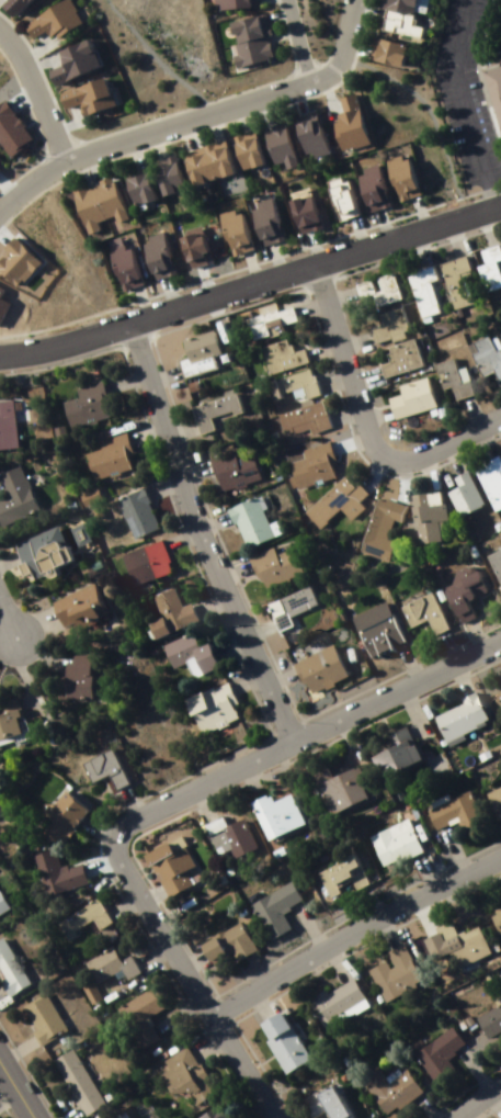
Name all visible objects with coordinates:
building: (23, 0)
building: (210, 0)
building: (232, 3)
building: (8, 4)
building: (48, 18)
building: (400, 19)
building: (248, 36)
road: (296, 39)
building: (388, 54)
road: (158, 57)
building: (70, 60)
road: (324, 88)
building: (492, 88)
road: (35, 92)
parking lot: (463, 92)
building: (84, 93)
road: (295, 98)
road: (462, 101)
road: (235, 103)
road: (264, 105)
road: (235, 116)
building: (346, 122)
road: (207, 124)
road: (182, 131)
building: (307, 135)
road: (157, 138)
building: (276, 143)
road: (132, 147)
building: (244, 151)
road: (88, 162)
building: (205, 165)
road: (76, 166)
building: (398, 174)
building: (167, 177)
road: (32, 178)
building: (368, 184)
building: (137, 188)
building: (338, 197)
building: (94, 204)
building: (300, 211)
road: (417, 214)
building: (264, 217)
road: (483, 221)
road: (382, 224)
building: (232, 227)
road: (453, 230)
road: (356, 233)
road: (417, 241)
road: (311, 247)
building: (155, 250)
road: (274, 260)
building: (121, 263)
road: (250, 267)
building: (486, 267)
building: (452, 279)
road: (251, 280)
building: (375, 286)
building: (420, 287)
road: (167, 292)
road: (335, 292)
road: (140, 302)
road: (307, 304)
building: (261, 321)
building: (385, 324)
building: (499, 336)
road: (349, 339)
road: (320, 348)
building: (196, 350)
building: (277, 353)
building: (396, 357)
building: (485, 357)
road: (161, 368)
road: (122, 376)
road: (330, 376)
road: (357, 377)
building: (447, 379)
building: (295, 381)
building: (407, 397)
building: (84, 400)
building: (208, 409)
road: (341, 410)
building: (300, 414)
road: (369, 414)
road: (467, 415)
road: (362, 420)
building: (5, 424)
road: (178, 427)
road: (497, 427)
road: (141, 428)
road: (346, 440)
road: (478, 443)
building: (500, 454)
building: (106, 456)
road: (451, 458)
road: (191, 463)
building: (309, 463)
building: (230, 467)
road: (368, 470)
road: (426, 472)
building: (486, 479)
road: (397, 481)
road: (160, 483)
building: (13, 493)
building: (457, 493)
building: (333, 499)
building: (134, 510)
building: (423, 513)
road: (209, 518)
building: (247, 521)
building: (376, 528)
road: (198, 533)
road: (179, 537)
building: (39, 550)
road: (8, 557)
building: (145, 562)
building: (272, 564)
building: (493, 564)
building: (457, 592)
road: (205, 602)
building: (75, 606)
building: (284, 606)
building: (418, 610)
building: (166, 613)
road: (27, 616)
road: (4, 618)
road: (3, 623)
building: (374, 626)
road: (254, 629)
road: (471, 632)
road: (42, 637)
road: (446, 643)
building: (185, 656)
road: (407, 660)
road: (19, 667)
building: (315, 668)
building: (72, 675)
road: (239, 675)
road: (275, 676)
road: (454, 679)
building: (498, 692)
building: (208, 705)
road: (408, 711)
building: (457, 716)
building: (11, 719)
road: (348, 749)
building: (394, 749)
building: (101, 766)
road: (248, 780)
building: (331, 787)
road: (126, 798)
building: (435, 798)
building: (493, 798)
road: (157, 802)
road: (195, 804)
building: (454, 811)
building: (271, 814)
building: (53, 817)
road: (99, 823)
building: (225, 836)
building: (392, 839)
road: (455, 850)
road: (100, 860)
building: (169, 865)
building: (54, 871)
road: (425, 872)
building: (339, 874)
road: (150, 889)
road: (121, 899)
building: (500, 899)
building: (2, 903)
building: (275, 905)
road: (421, 913)
building: (82, 914)
building: (496, 916)
building: (442, 928)
road: (312, 929)
road: (354, 933)
building: (227, 942)
building: (452, 948)
road: (150, 949)
road: (193, 960)
building: (110, 961)
road: (334, 962)
road: (312, 968)
building: (391, 970)
building: (10, 971)
road: (254, 997)
building: (337, 1002)
road: (174, 1009)
road: (261, 1009)
building: (138, 1013)
building: (488, 1015)
building: (41, 1018)
building: (295, 1028)
building: (282, 1041)
road: (205, 1042)
road: (15, 1046)
building: (432, 1050)
road: (474, 1065)
building: (180, 1077)
building: (76, 1079)
building: (385, 1086)
road: (458, 1086)
road: (12, 1096)
road: (477, 1099)
road: (494, 1099)
building: (323, 1102)
road: (425, 1104)
road: (64, 1110)
building: (210, 1113)
building: (115, 1115)
road: (269, 1116)
building: (127, 1117)
road: (324, 1117)

